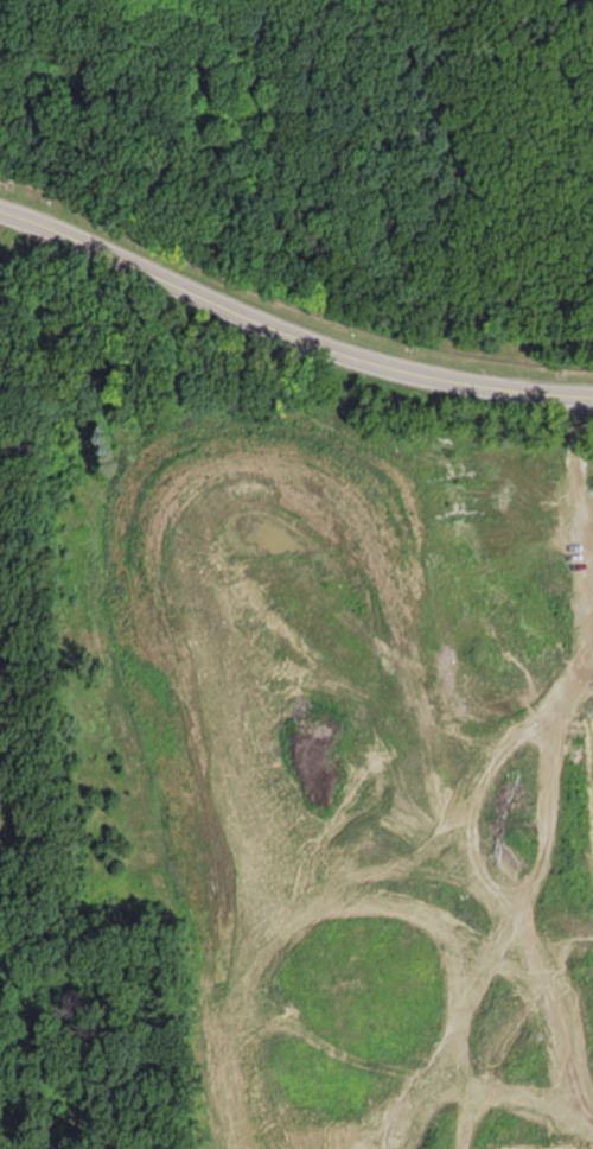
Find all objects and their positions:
road: (287, 331)
road: (9, 688)

